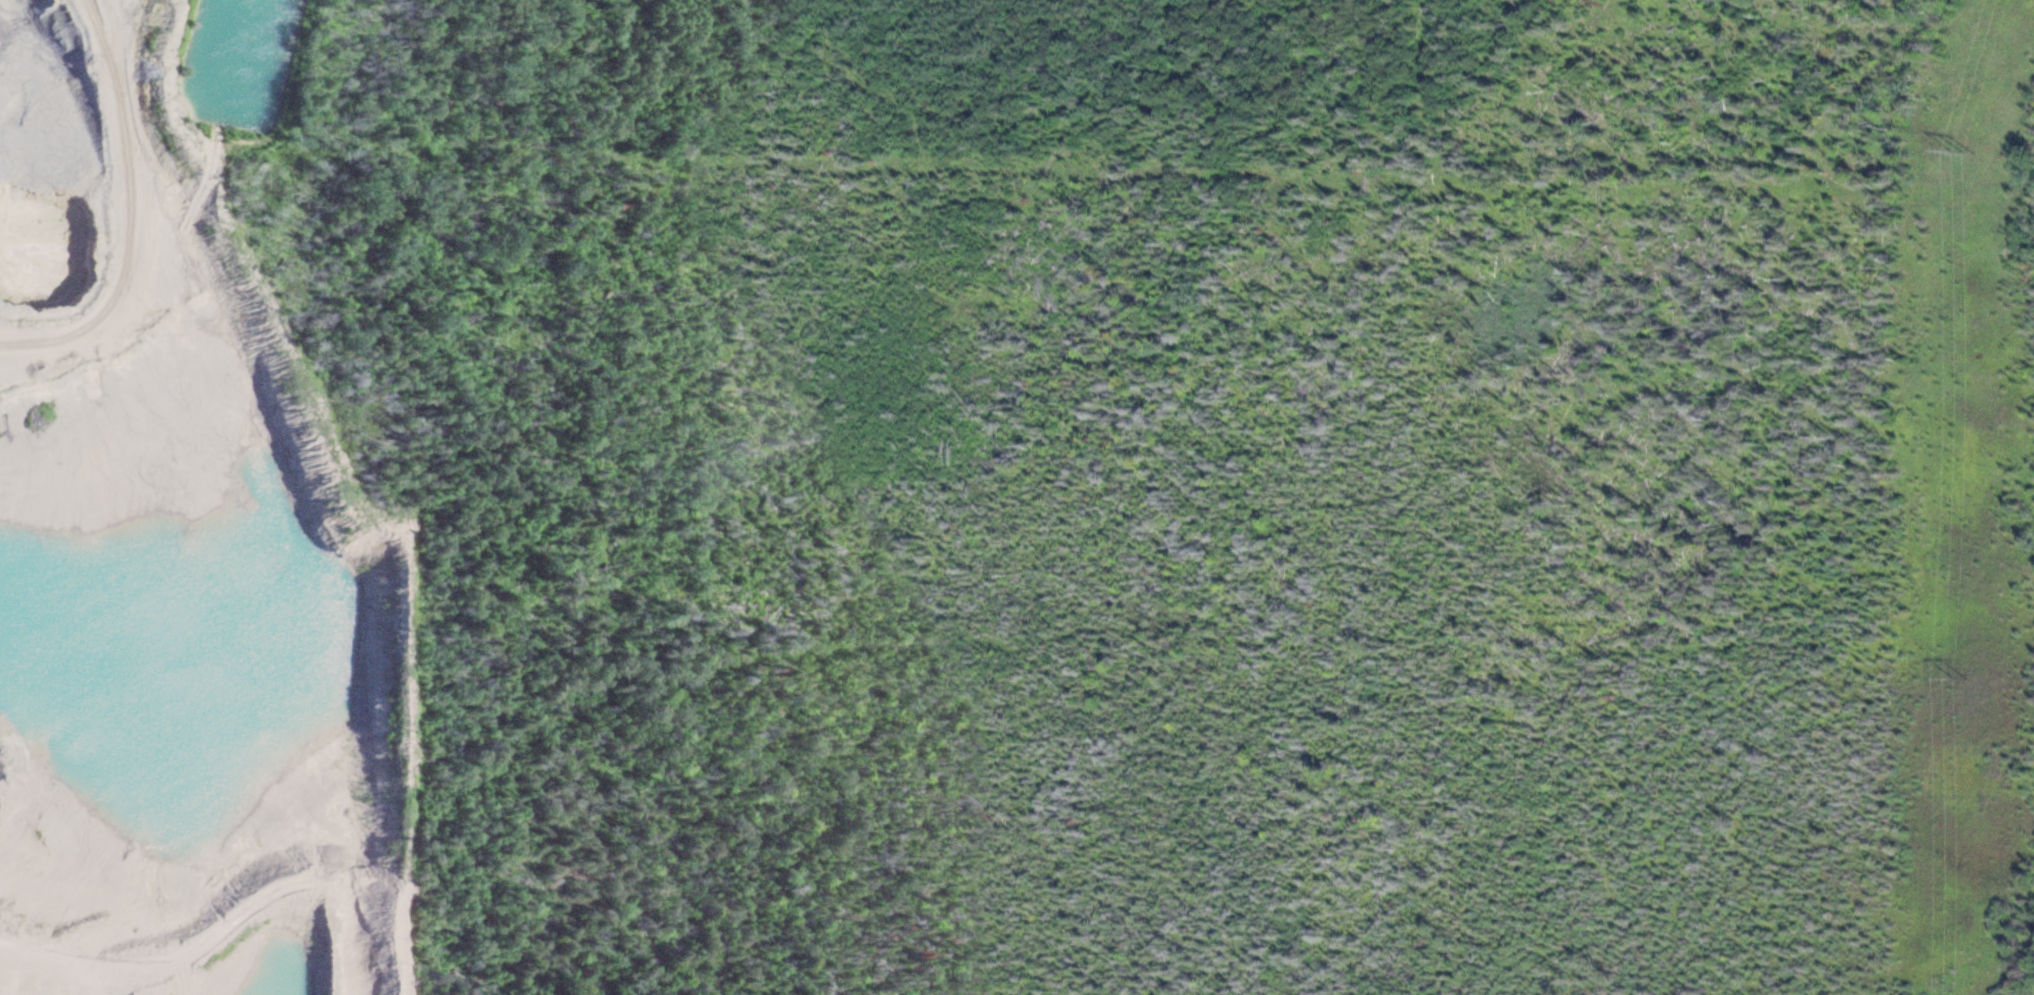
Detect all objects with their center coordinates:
quarry: (260, 493)

